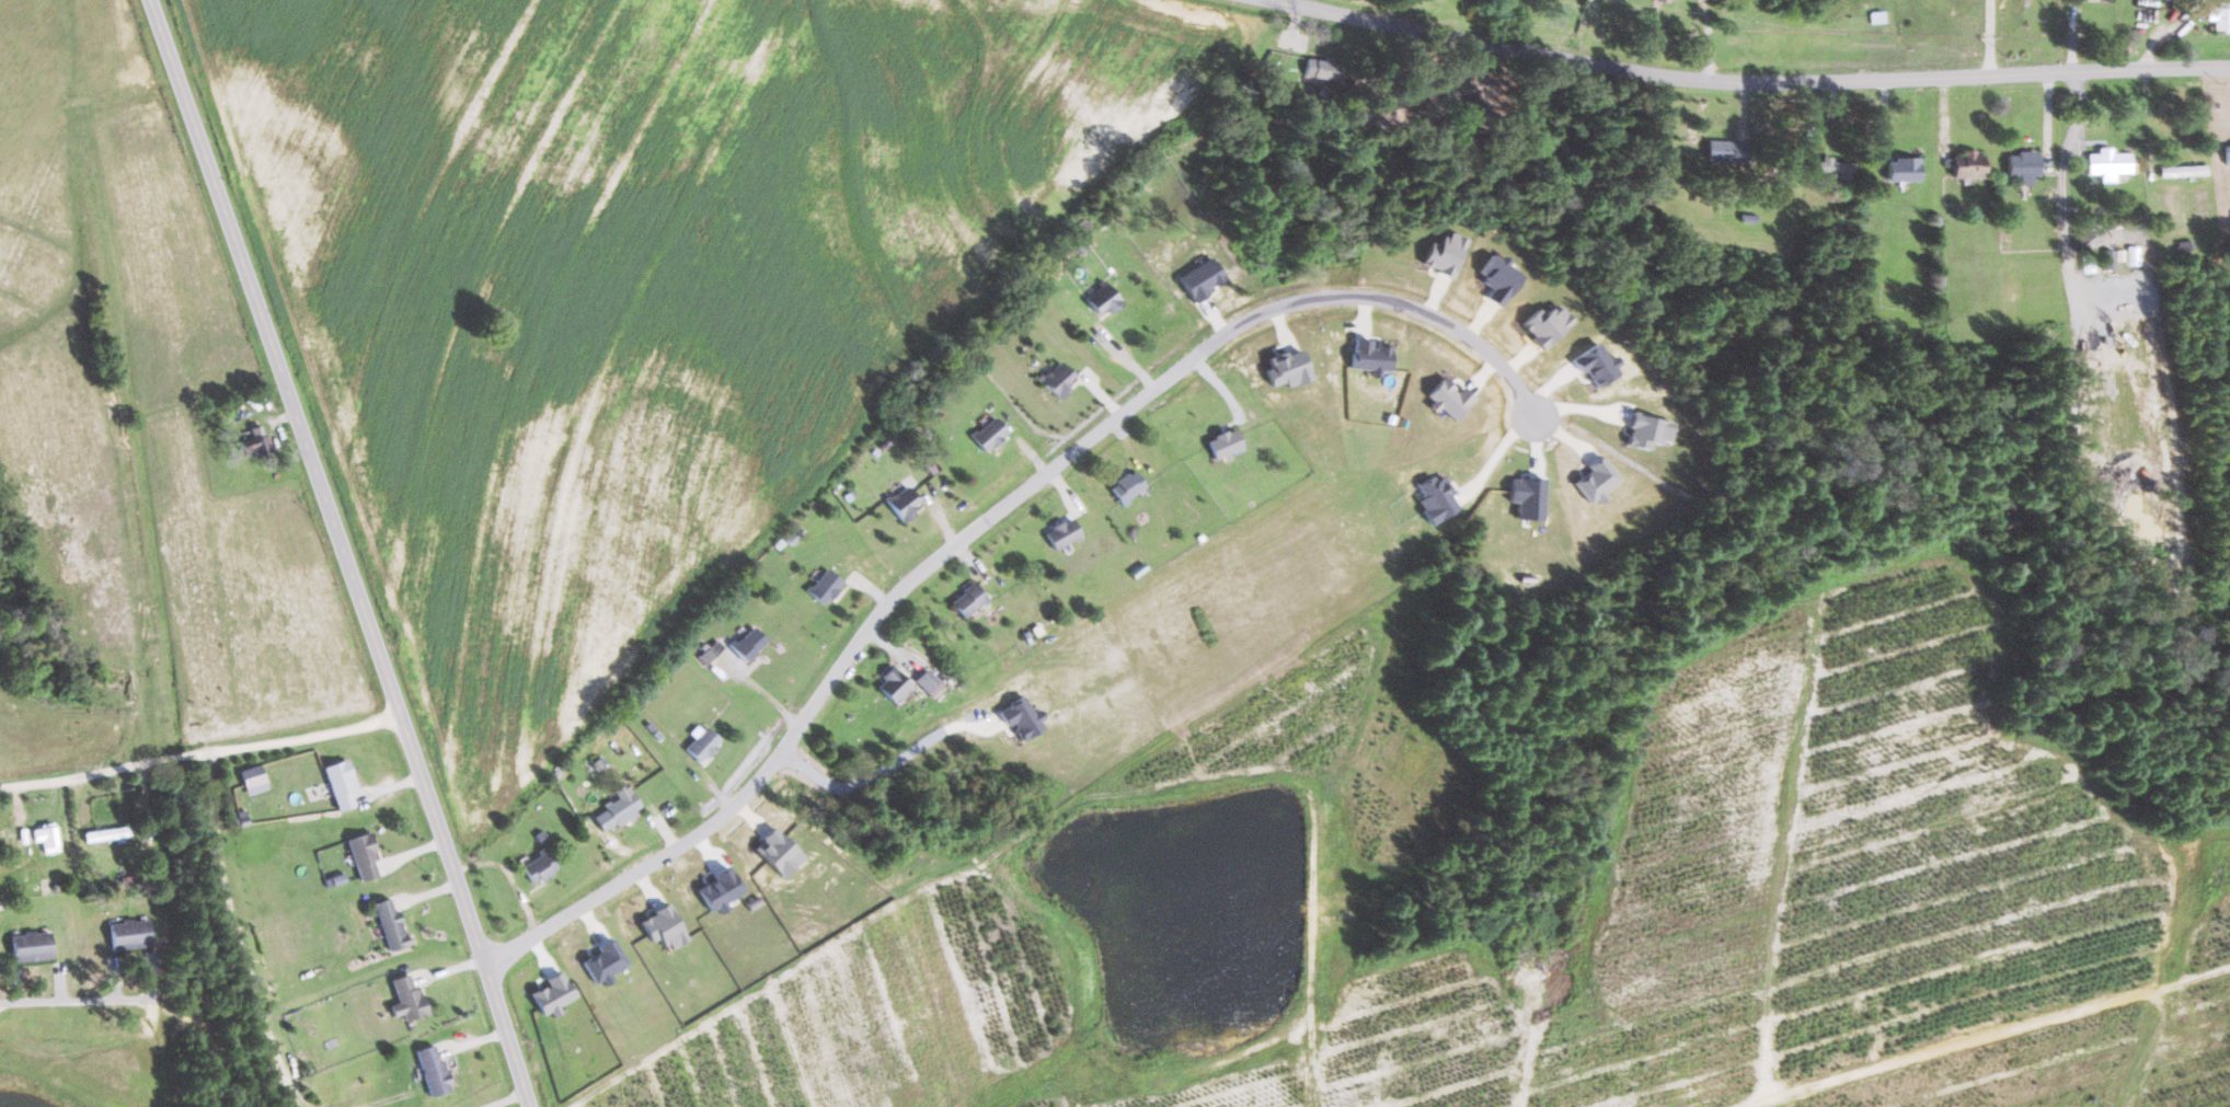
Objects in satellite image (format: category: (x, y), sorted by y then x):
building: (1669, 0)
road: (1421, 16)
building: (2221, 16)
road: (2158, 38)
road: (1989, 39)
road: (1710, 42)
building: (1324, 68)
road: (1744, 87)
building: (1729, 150)
building: (1946, 150)
building: (2228, 153)
building: (2111, 163)
building: (1970, 164)
building: (2026, 166)
building: (1838, 169)
building: (1906, 169)
building: (2136, 255)
building: (2112, 260)
building: (1106, 299)
building: (1059, 379)
building: (991, 434)
building: (258, 443)
building: (1226, 443)
building: (1129, 487)
building: (907, 504)
road: (976, 528)
building: (1065, 533)
road: (336, 552)
building: (827, 587)
building: (972, 600)
building: (752, 644)
building: (931, 681)
building: (896, 684)
road: (278, 743)
building: (705, 745)
road: (885, 768)
road: (81, 775)
building: (254, 780)
building: (342, 784)
building: (619, 809)
building: (47, 838)
building: (365, 857)
building: (541, 866)
building: (392, 923)
building: (130, 933)
building: (33, 945)
building: (410, 998)
road: (67, 1002)
building: (434, 1069)

